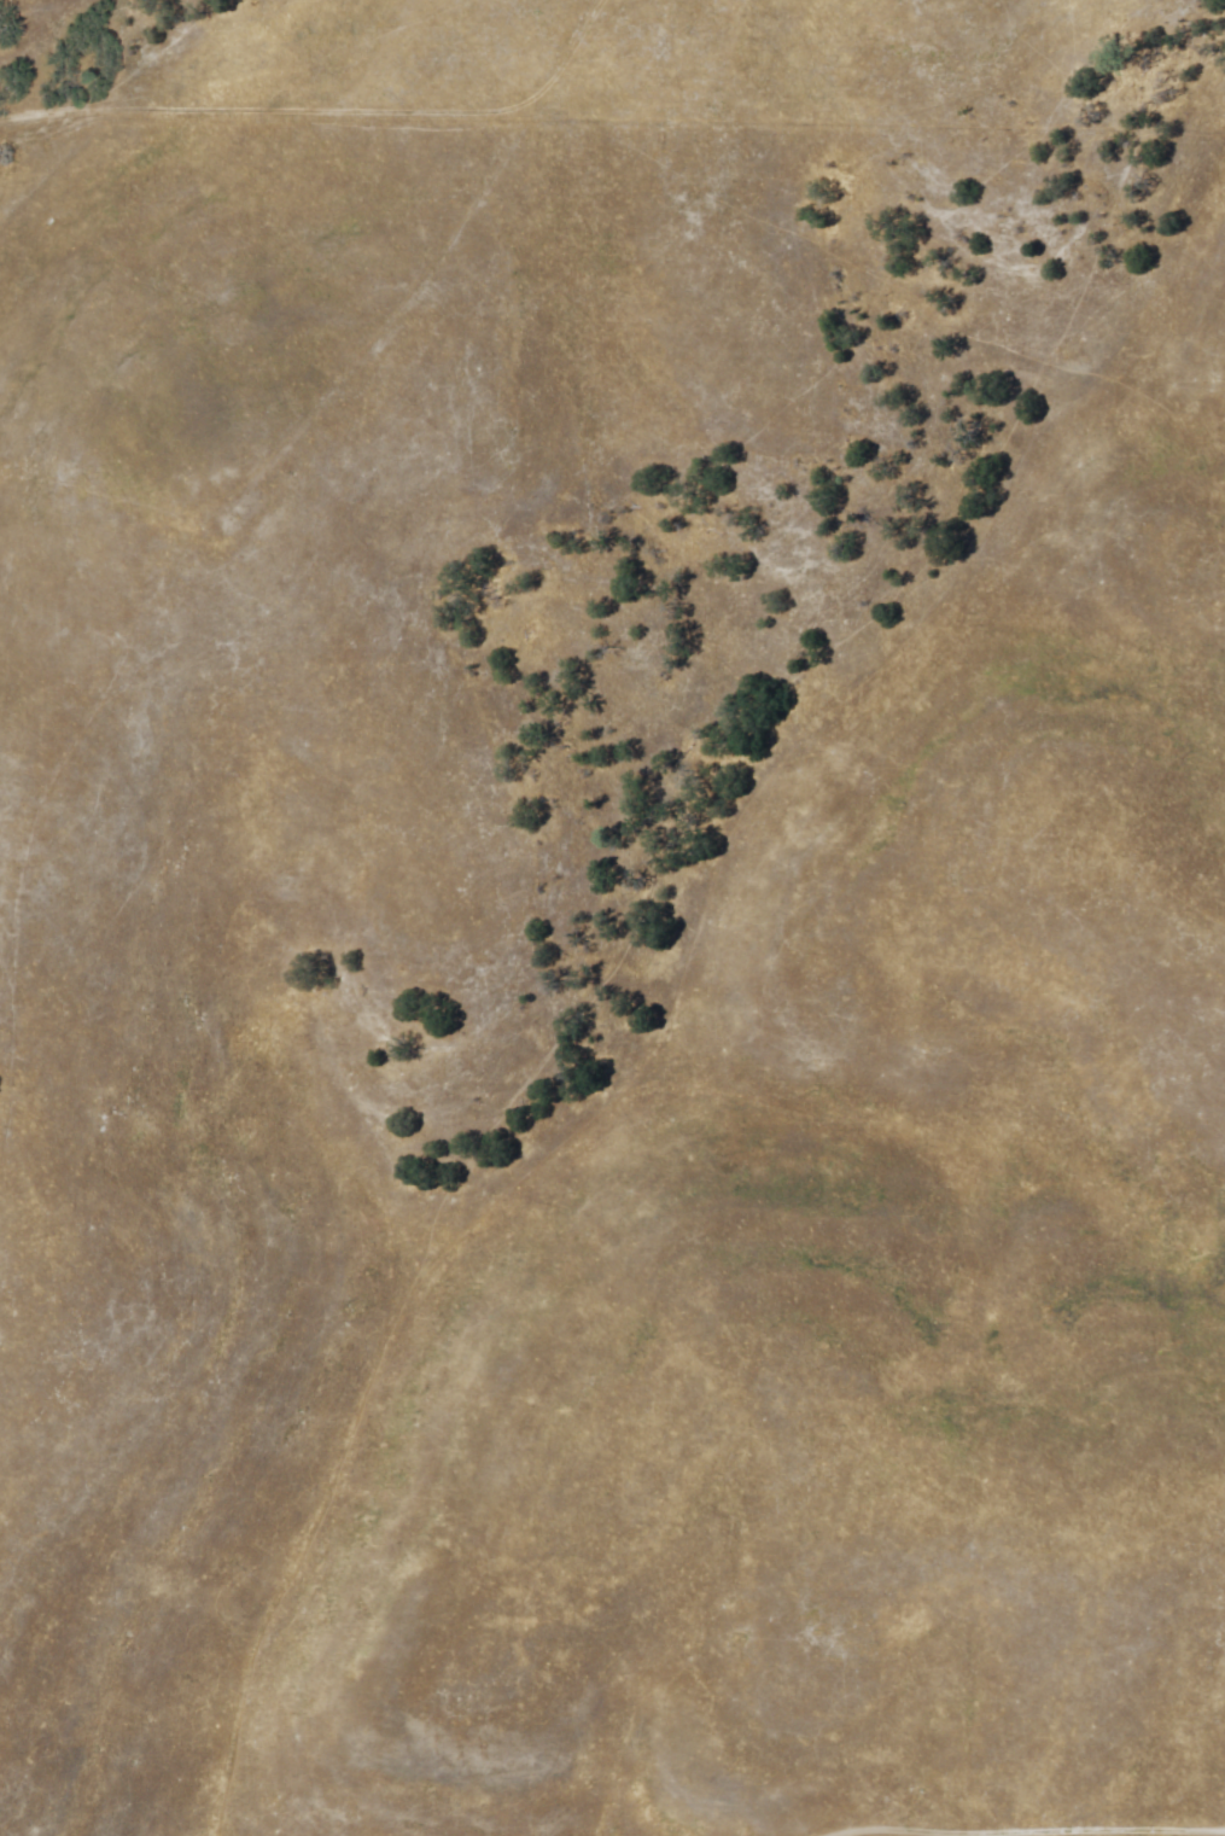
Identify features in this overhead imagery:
road: (1005, 1801)
road: (275, 1805)

